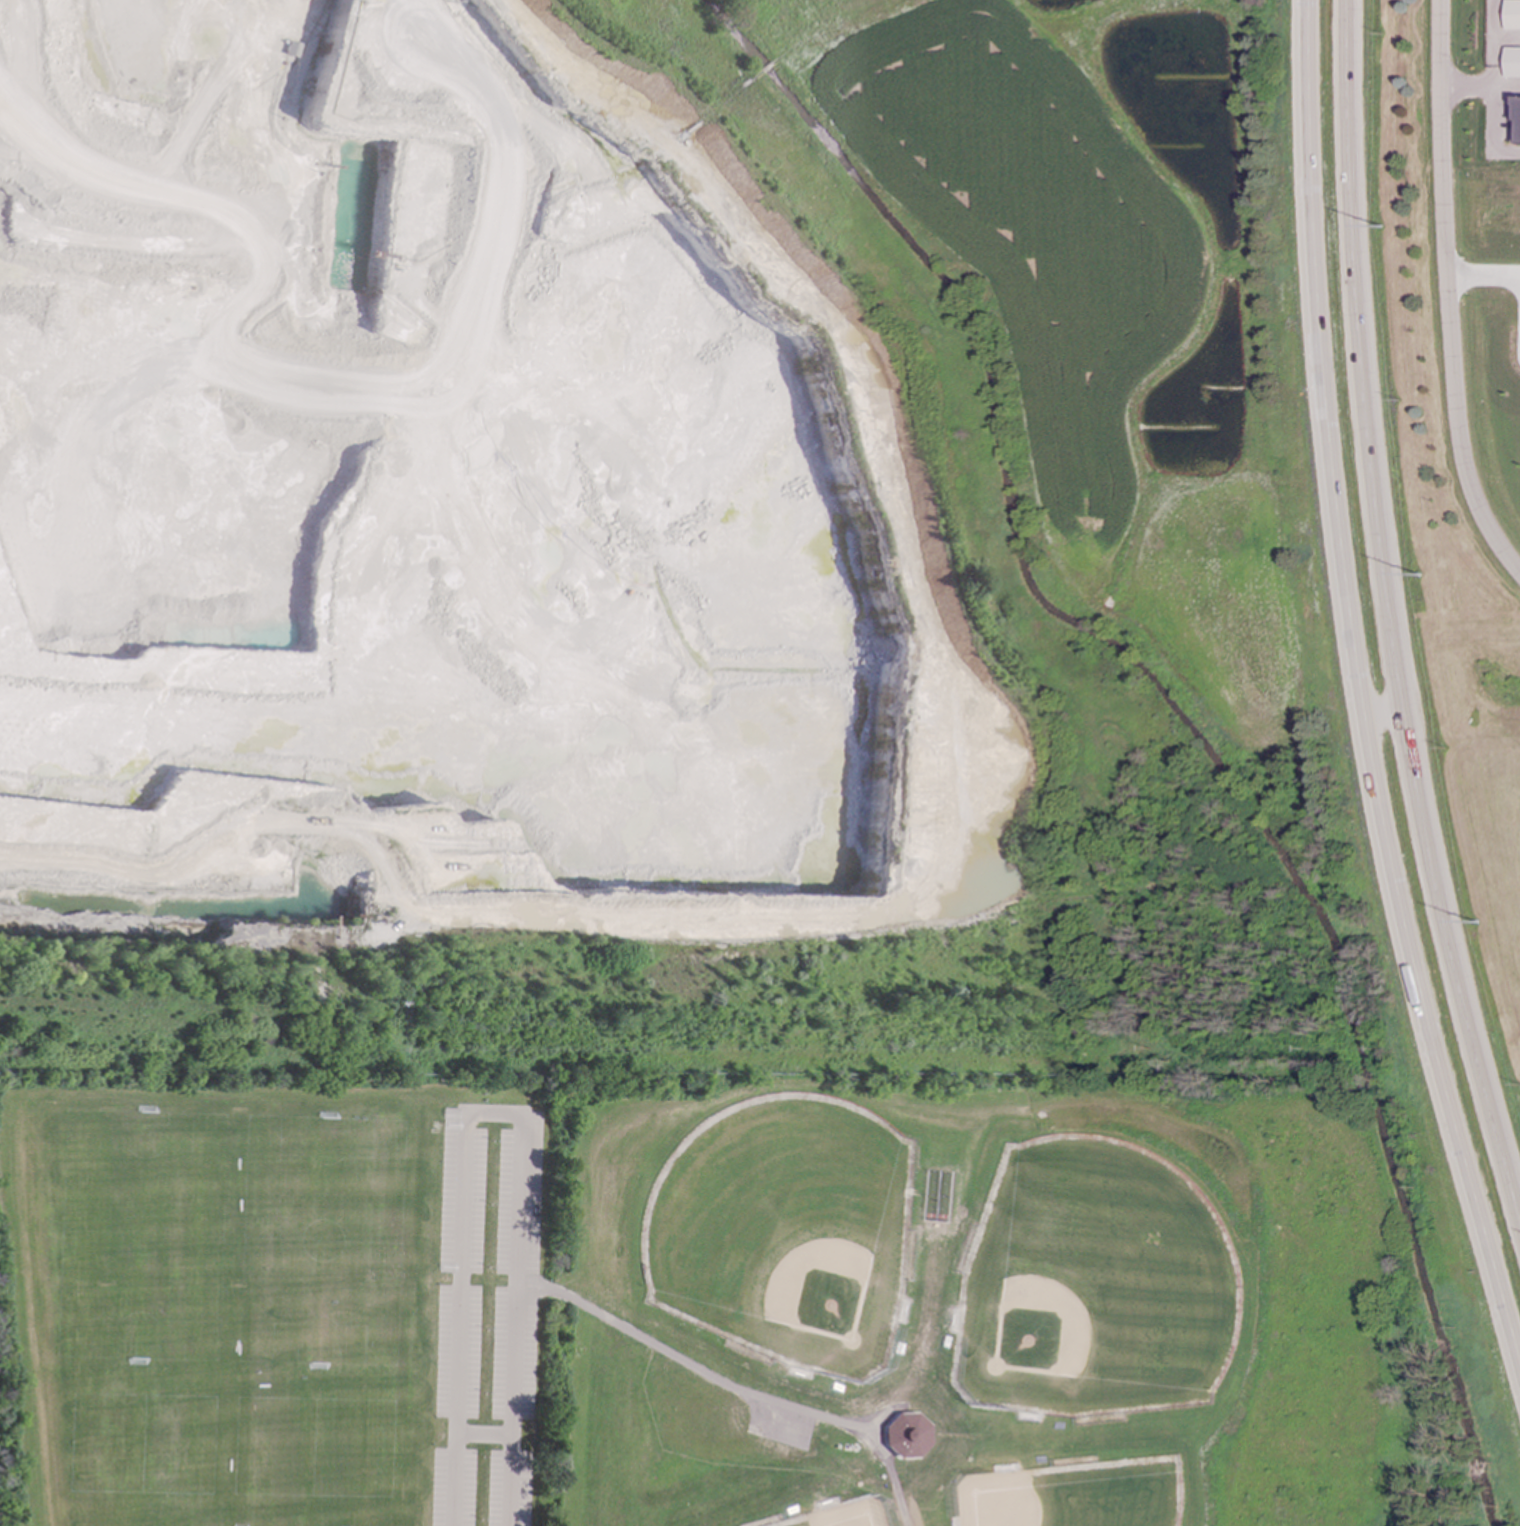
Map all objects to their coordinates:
building: (1512, 14)
road: (1493, 42)
building: (1512, 62)
road: (1466, 85)
road: (1506, 86)
building: (1518, 120)
power tower: (1382, 229)
road: (1483, 275)
road: (1447, 295)
quarry: (668, 538)
power tower: (1418, 578)
road: (1388, 614)
road: (1361, 687)
road: (1385, 713)
power tower: (1478, 926)
road: (492, 1115)
park: (744, 1295)
road: (682, 1364)
road: (484, 1436)
building: (905, 1437)

